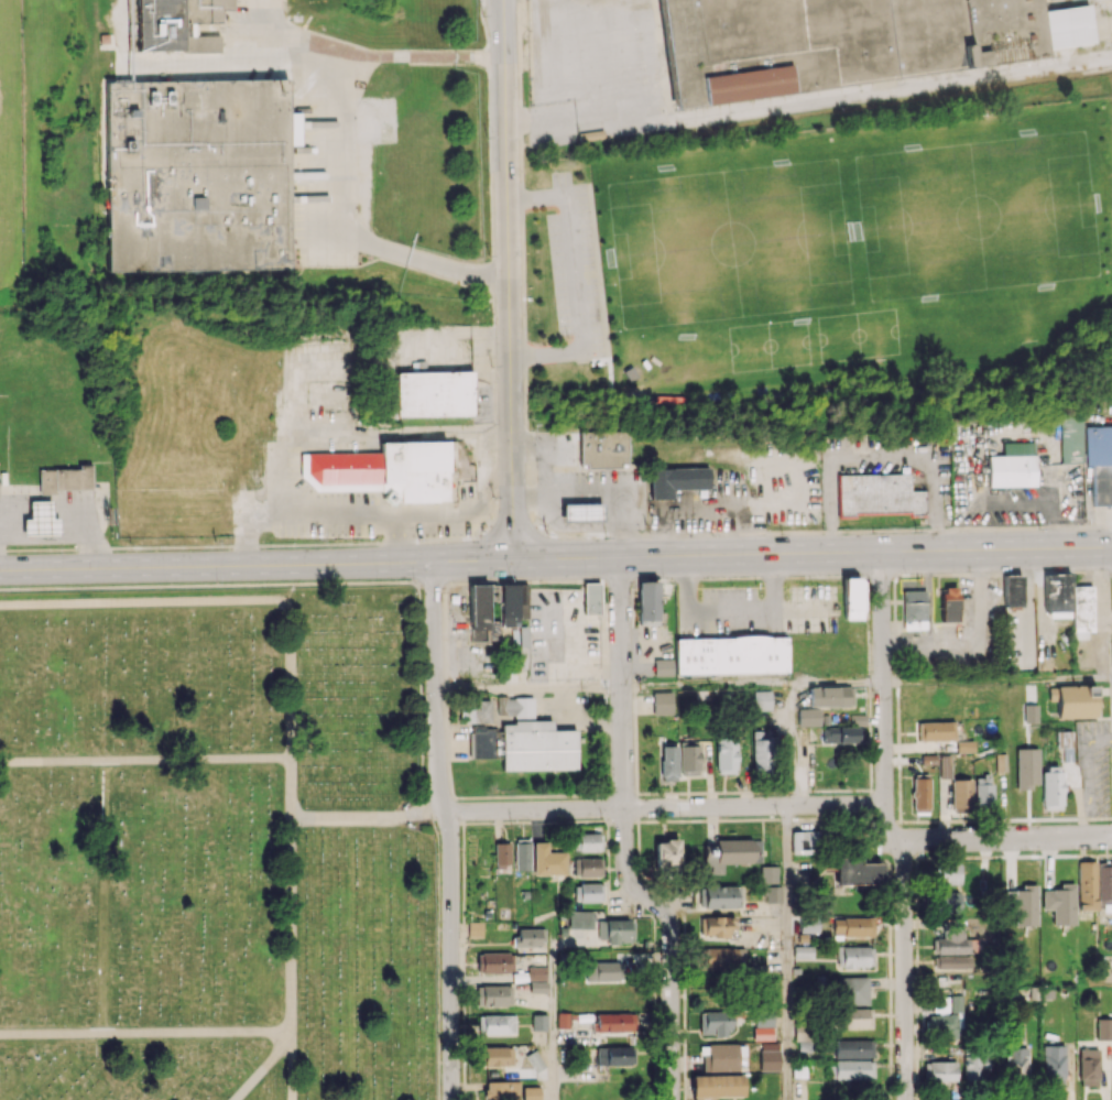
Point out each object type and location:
building: (177, 24)
building: (850, 41)
road: (302, 46)
road: (348, 161)
building: (199, 174)
road: (536, 198)
park: (1005, 227)
park: (874, 241)
park: (819, 255)
park: (735, 258)
parking lot: (577, 268)
road: (575, 273)
road: (509, 280)
road: (547, 355)
building: (434, 393)
road: (353, 429)
building: (602, 448)
road: (544, 454)
building: (1089, 454)
road: (882, 456)
building: (1012, 465)
building: (383, 471)
building: (65, 479)
building: (676, 480)
road: (597, 494)
building: (877, 494)
building: (581, 512)
road: (369, 518)
building: (40, 520)
road: (394, 540)
traffic signals: (513, 559)
road: (555, 559)
building: (1012, 590)
building: (1057, 592)
building: (591, 598)
building: (852, 598)
road: (220, 600)
building: (647, 602)
building: (949, 603)
building: (513, 607)
road: (799, 607)
road: (730, 608)
building: (1082, 608)
building: (914, 609)
building: (481, 616)
road: (974, 643)
building: (733, 655)
building: (1045, 663)
building: (663, 666)
road: (997, 680)
road: (839, 684)
road: (708, 686)
road: (528, 688)
road: (883, 694)
building: (830, 696)
building: (761, 699)
building: (1073, 700)
building: (662, 703)
building: (514, 706)
building: (475, 711)
building: (1029, 714)
building: (808, 717)
building: (935, 730)
building: (839, 734)
building: (1064, 740)
road: (796, 744)
building: (525, 745)
building: (964, 745)
building: (761, 750)
building: (726, 753)
building: (688, 758)
road: (144, 759)
building: (668, 763)
building: (945, 766)
building: (1026, 767)
building: (1051, 787)
building: (983, 791)
building: (920, 794)
building: (960, 794)
road: (663, 806)
road: (368, 818)
road: (449, 829)
road: (1009, 838)
road: (624, 839)
road: (894, 839)
building: (587, 841)
building: (804, 842)
park: (214, 847)
building: (522, 853)
building: (730, 853)
building: (502, 854)
building: (666, 854)
building: (548, 860)
building: (587, 867)
building: (857, 871)
building: (950, 873)
building: (767, 874)
building: (1087, 885)
building: (587, 892)
building: (771, 894)
road: (103, 896)
building: (721, 896)
building: (947, 902)
building: (1059, 903)
building: (1023, 904)
building: (579, 919)
building: (809, 922)
building: (715, 926)
building: (852, 926)
building: (475, 928)
building: (615, 930)
building: (530, 936)
road: (292, 938)
building: (951, 941)
building: (802, 951)
road: (787, 952)
building: (854, 956)
building: (721, 957)
building: (955, 961)
building: (494, 962)
building: (603, 970)
road: (905, 970)
building: (536, 979)
road: (1009, 980)
building: (852, 990)
building: (493, 995)
road: (553, 1012)
building: (855, 1017)
building: (763, 1019)
building: (565, 1020)
building: (947, 1020)
building: (538, 1021)
building: (614, 1022)
building: (713, 1023)
building: (497, 1024)
building: (1104, 1028)
road: (145, 1032)
building: (762, 1033)
building: (800, 1033)
building: (852, 1048)
building: (614, 1055)
building: (498, 1056)
building: (719, 1056)
building: (534, 1060)
building: (1015, 1061)
building: (1053, 1064)
road: (292, 1066)
building: (974, 1067)
building: (1088, 1067)
building: (852, 1069)
building: (939, 1070)
building: (716, 1086)
building: (495, 1090)
building: (531, 1092)

